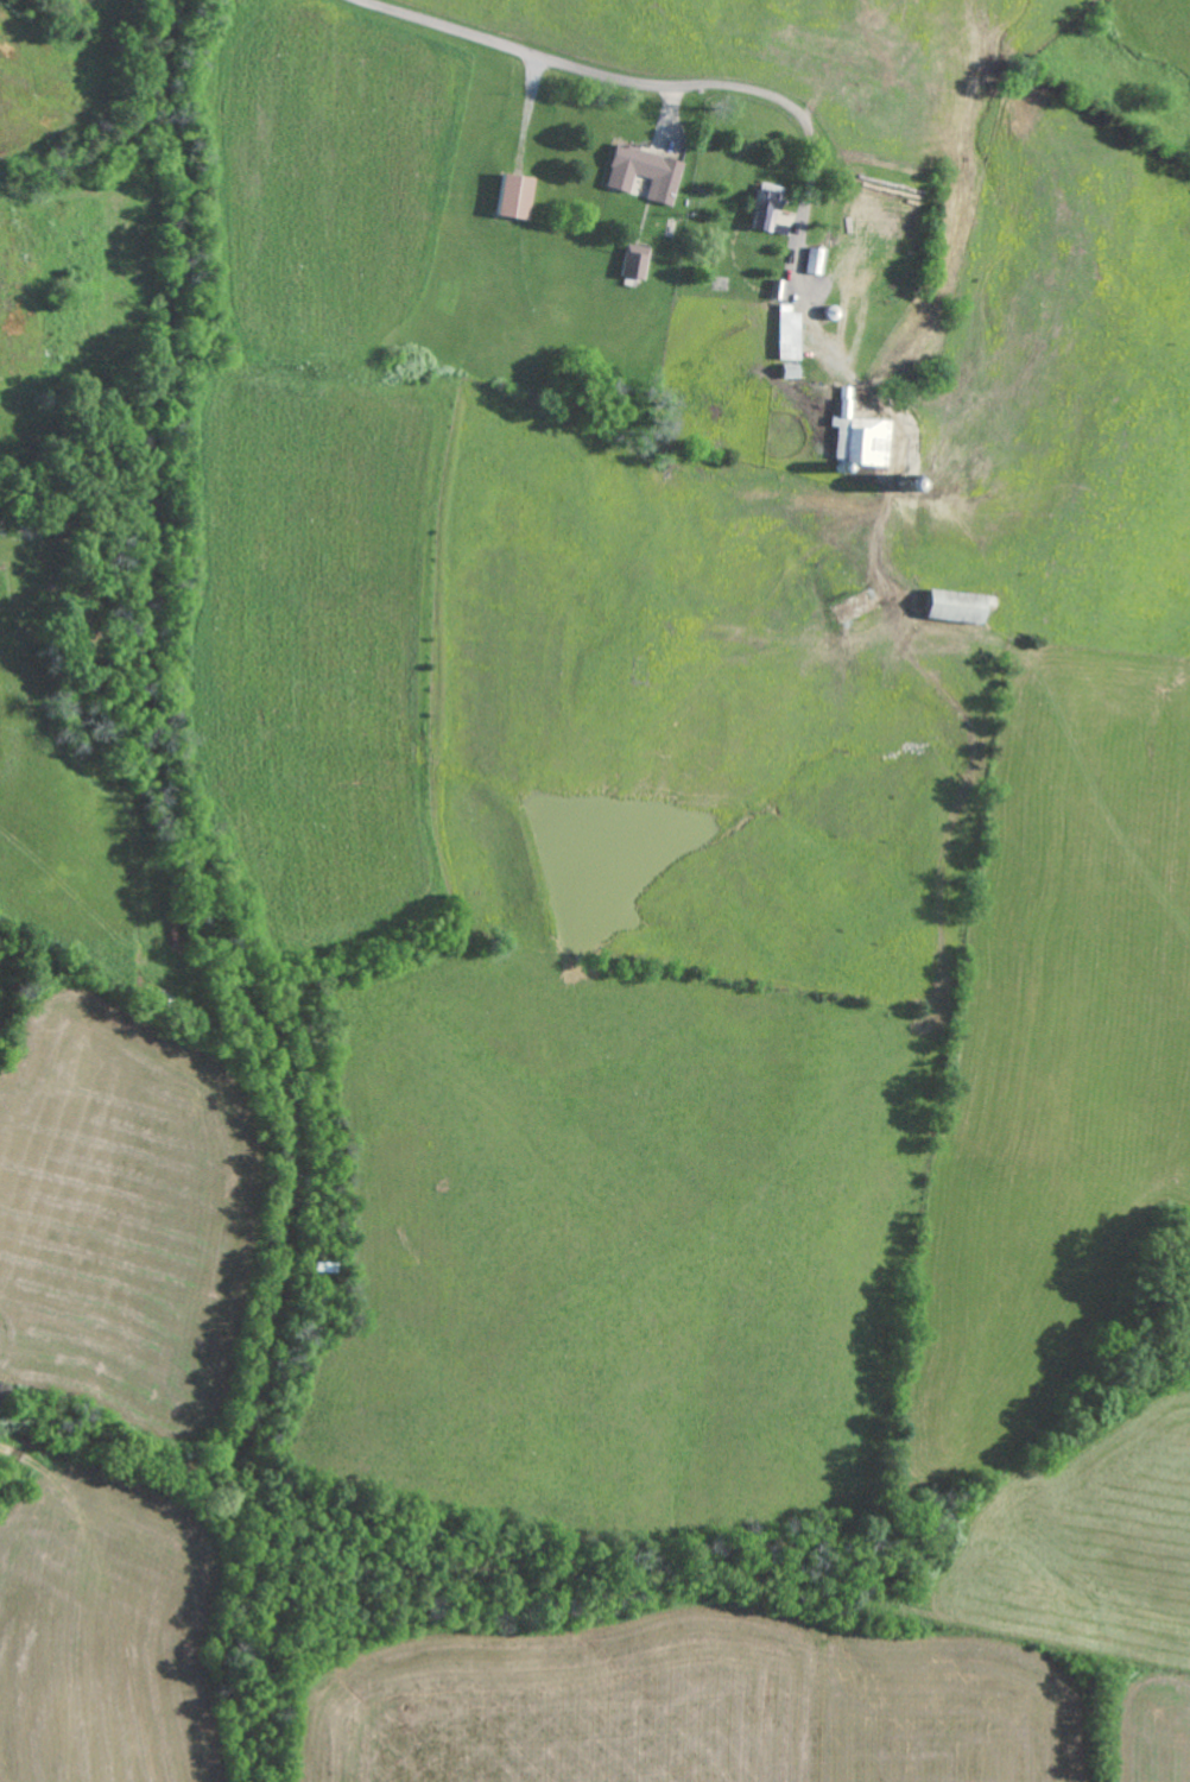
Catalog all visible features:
road: (606, 76)
building: (650, 171)
building: (521, 195)
building: (771, 206)
building: (818, 259)
building: (640, 260)
road: (798, 282)
building: (793, 333)
building: (963, 606)

